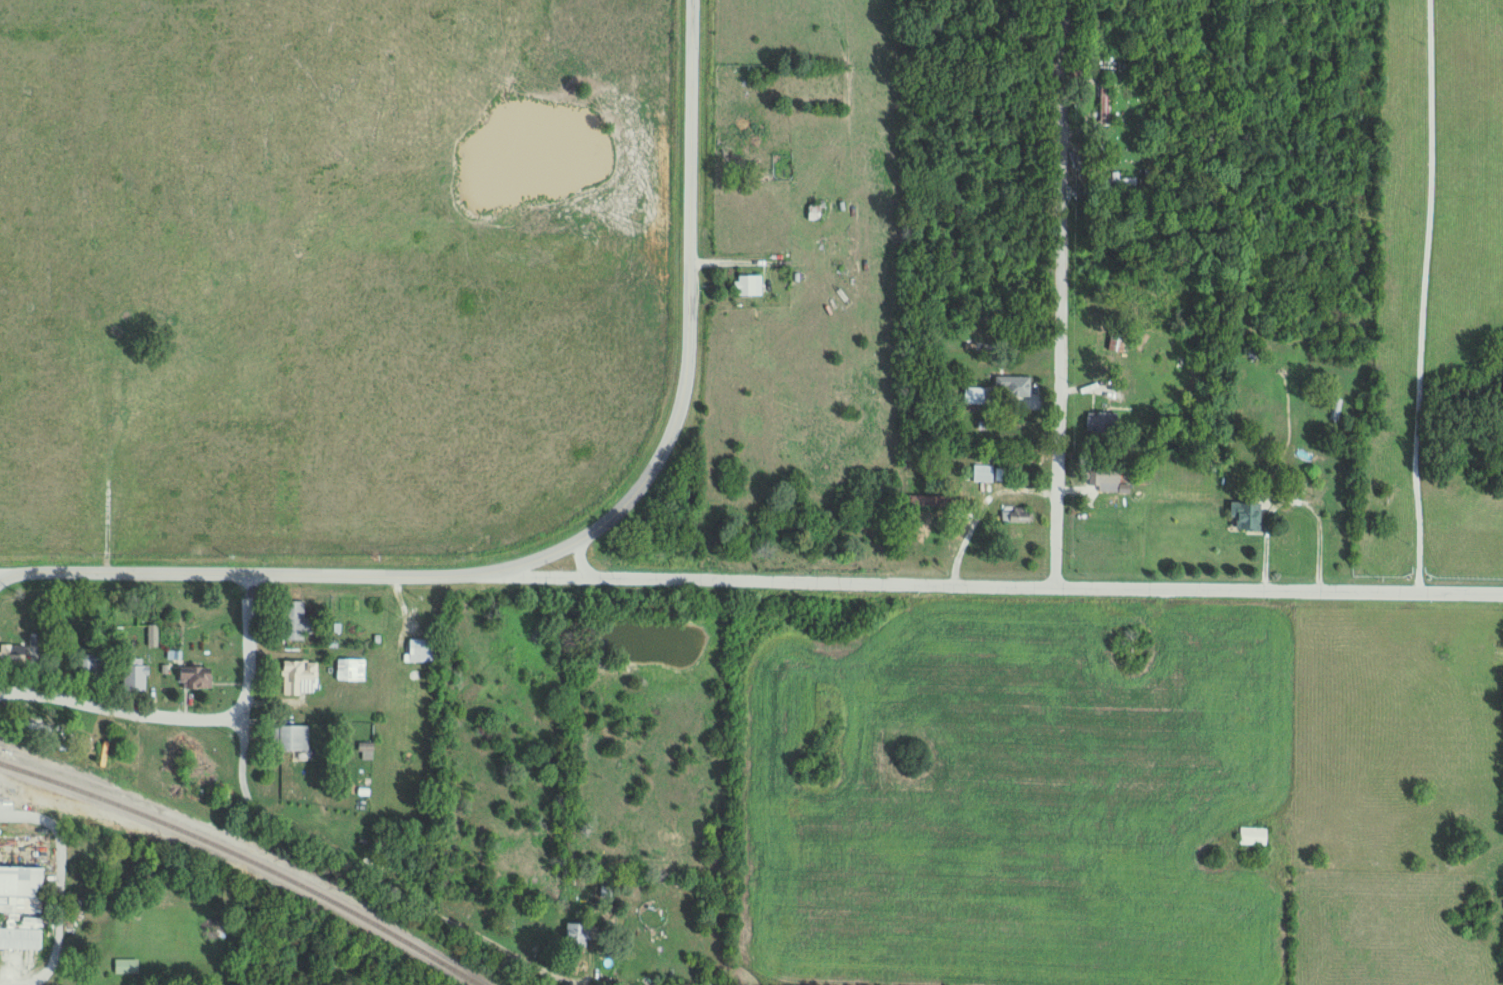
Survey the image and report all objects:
building: (1105, 96)
building: (750, 285)
road: (1058, 293)
road: (1418, 298)
building: (1257, 300)
road: (685, 345)
building: (1017, 385)
building: (1103, 420)
building: (984, 472)
building: (1105, 475)
building: (1017, 514)
building: (1249, 515)
road: (236, 572)
road: (0, 574)
road: (0, 574)
road: (987, 585)
building: (298, 621)
building: (423, 650)
building: (13, 655)
building: (94, 665)
building: (352, 669)
building: (137, 673)
building: (198, 677)
building: (294, 677)
road: (119, 713)
building: (296, 738)
building: (367, 751)
road: (294, 831)
railway: (250, 858)
building: (608, 888)
building: (23, 890)
road: (55, 890)
building: (23, 934)
building: (581, 935)
building: (127, 966)

